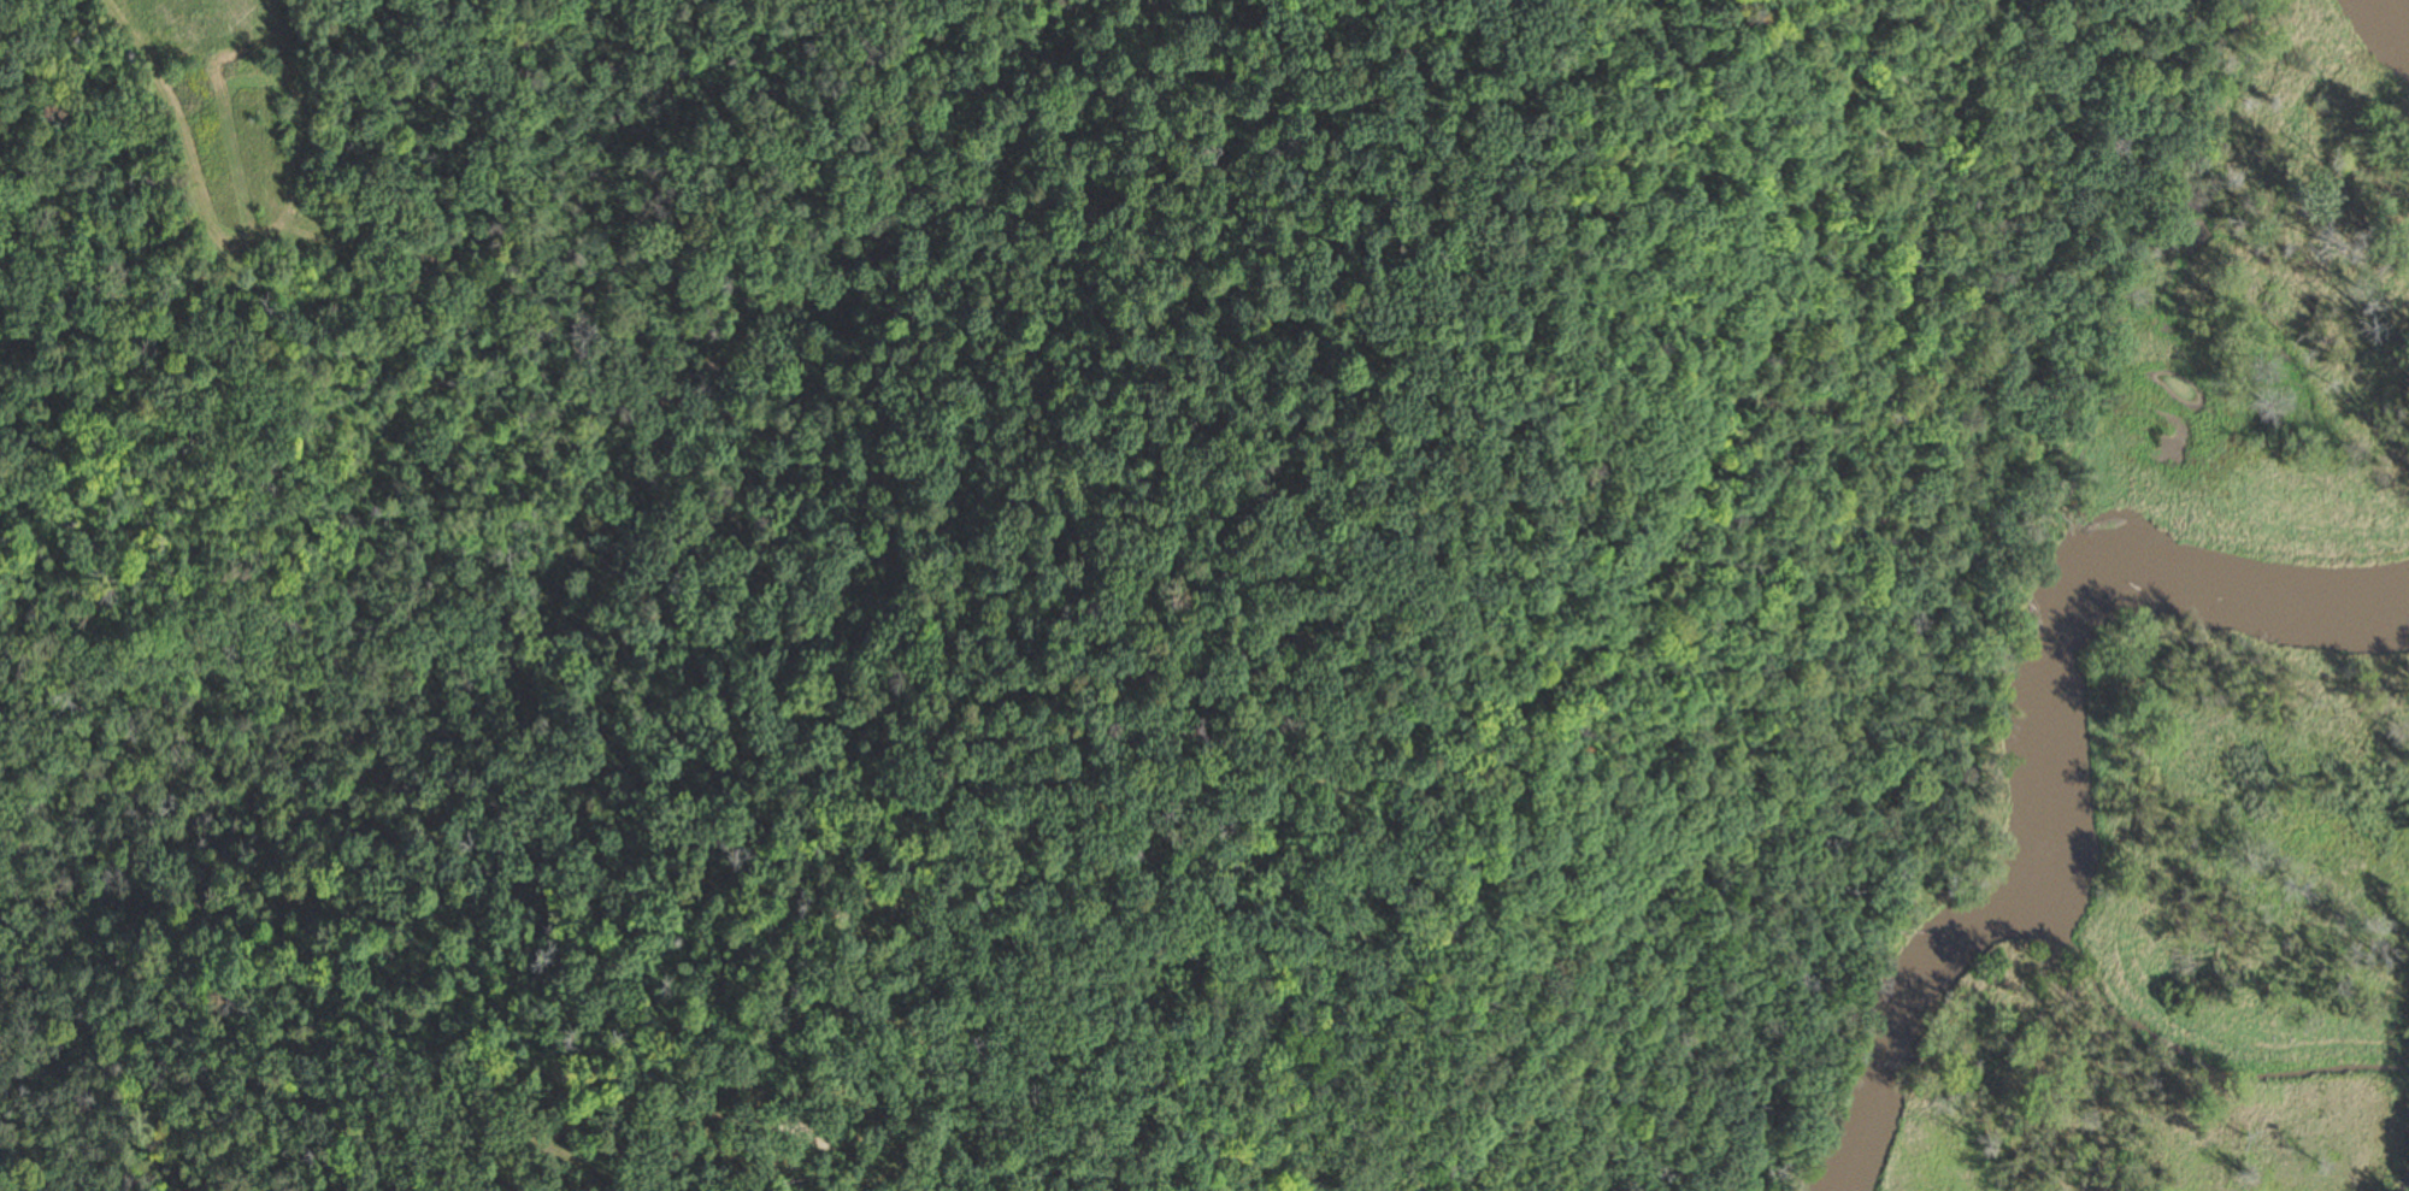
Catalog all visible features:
river: (2391, 18)
river: (2052, 741)
river: (2179, 1046)
river: (2404, 1183)

